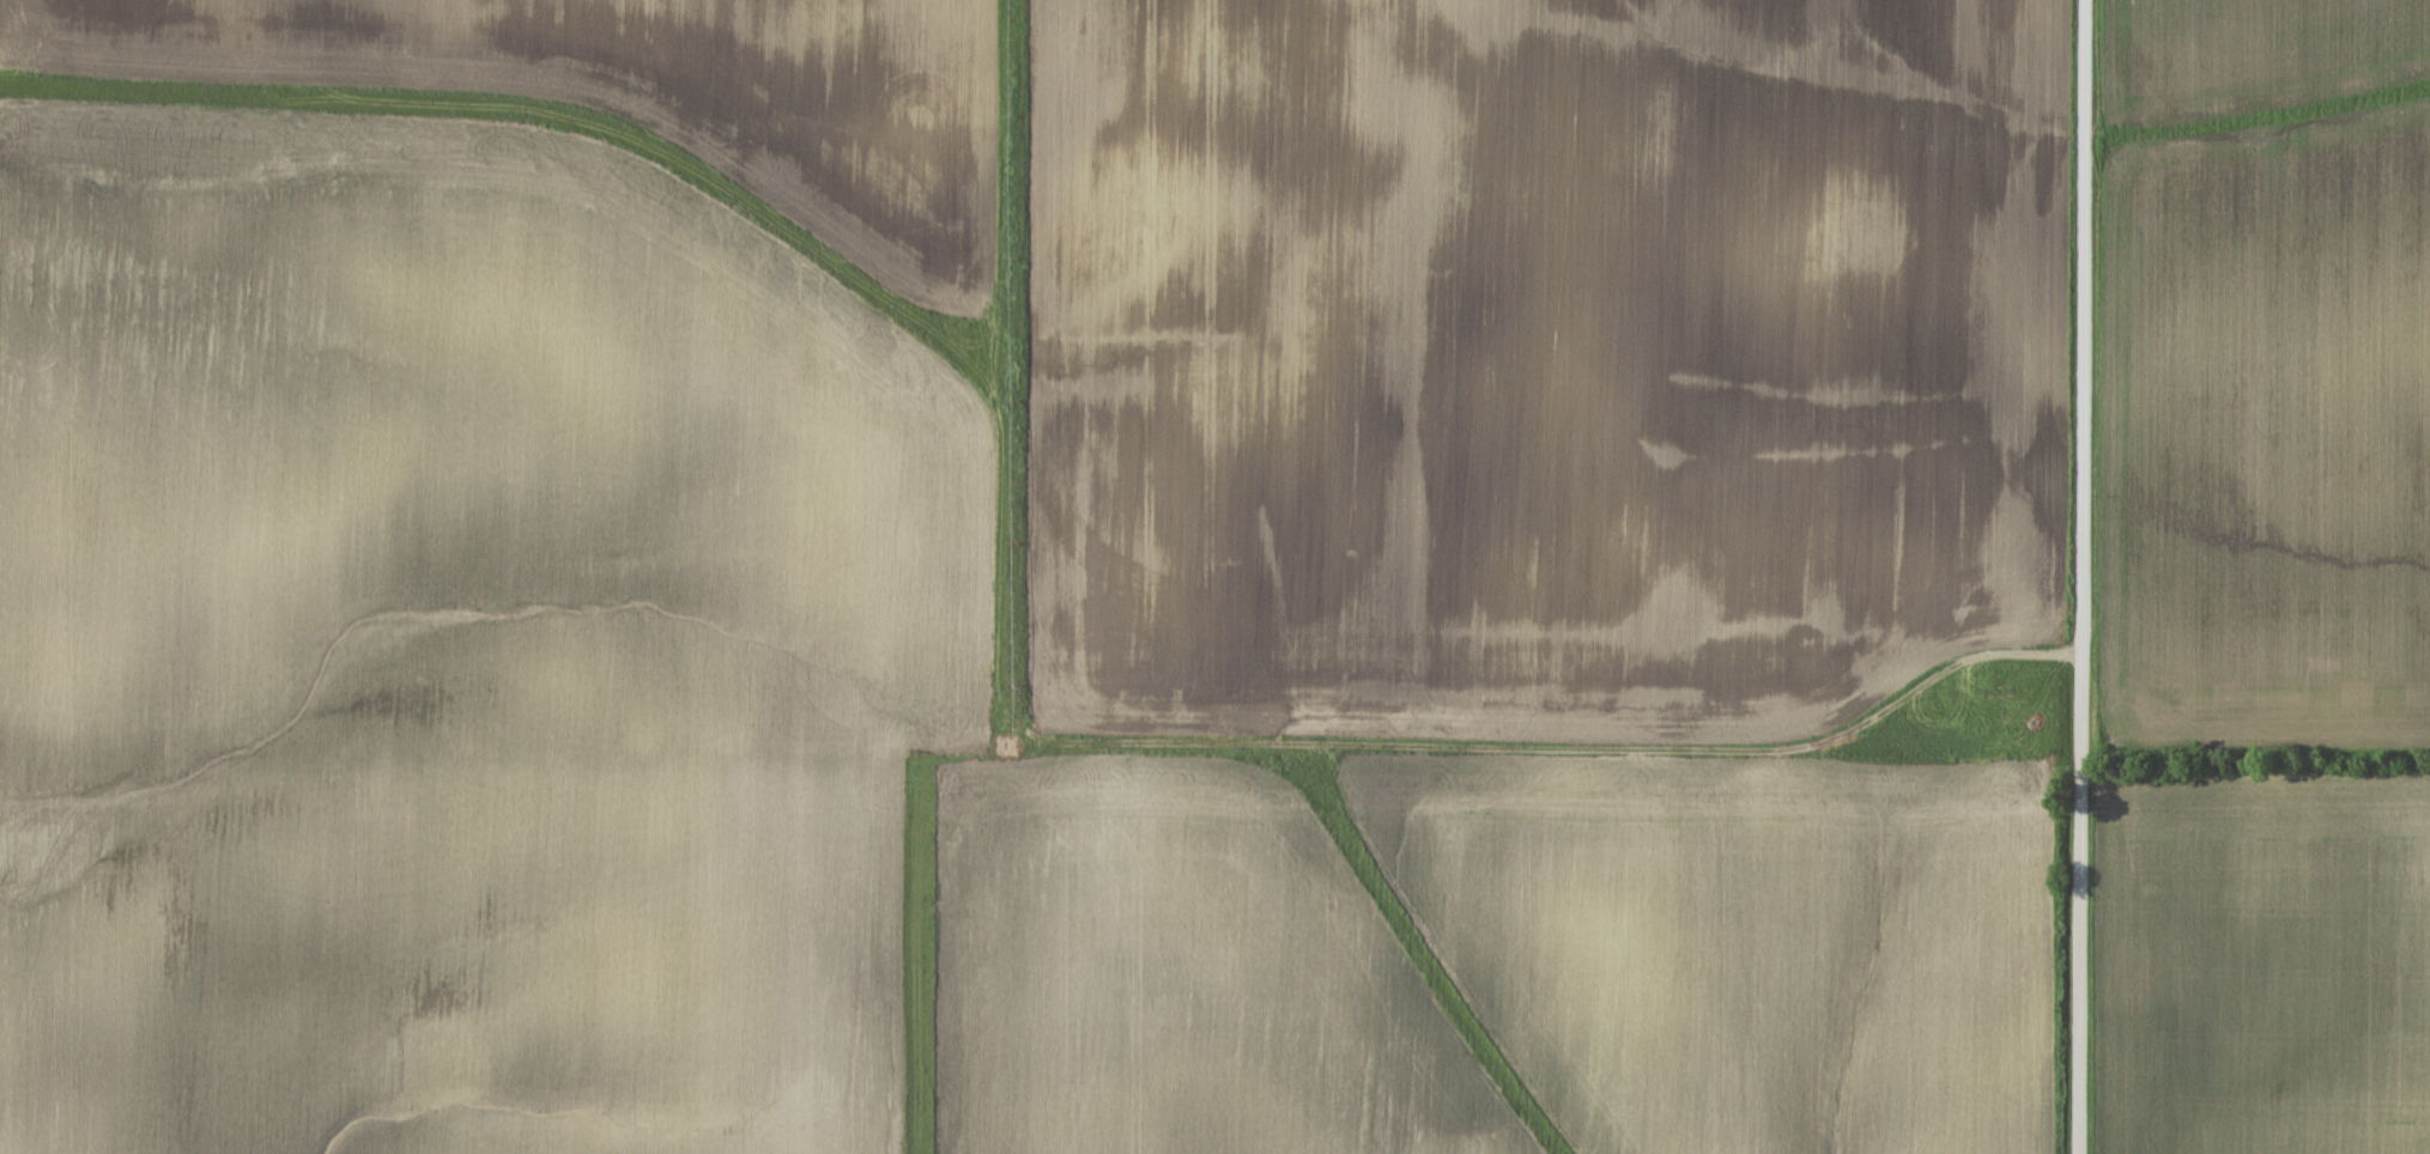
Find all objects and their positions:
road: (2091, 577)

